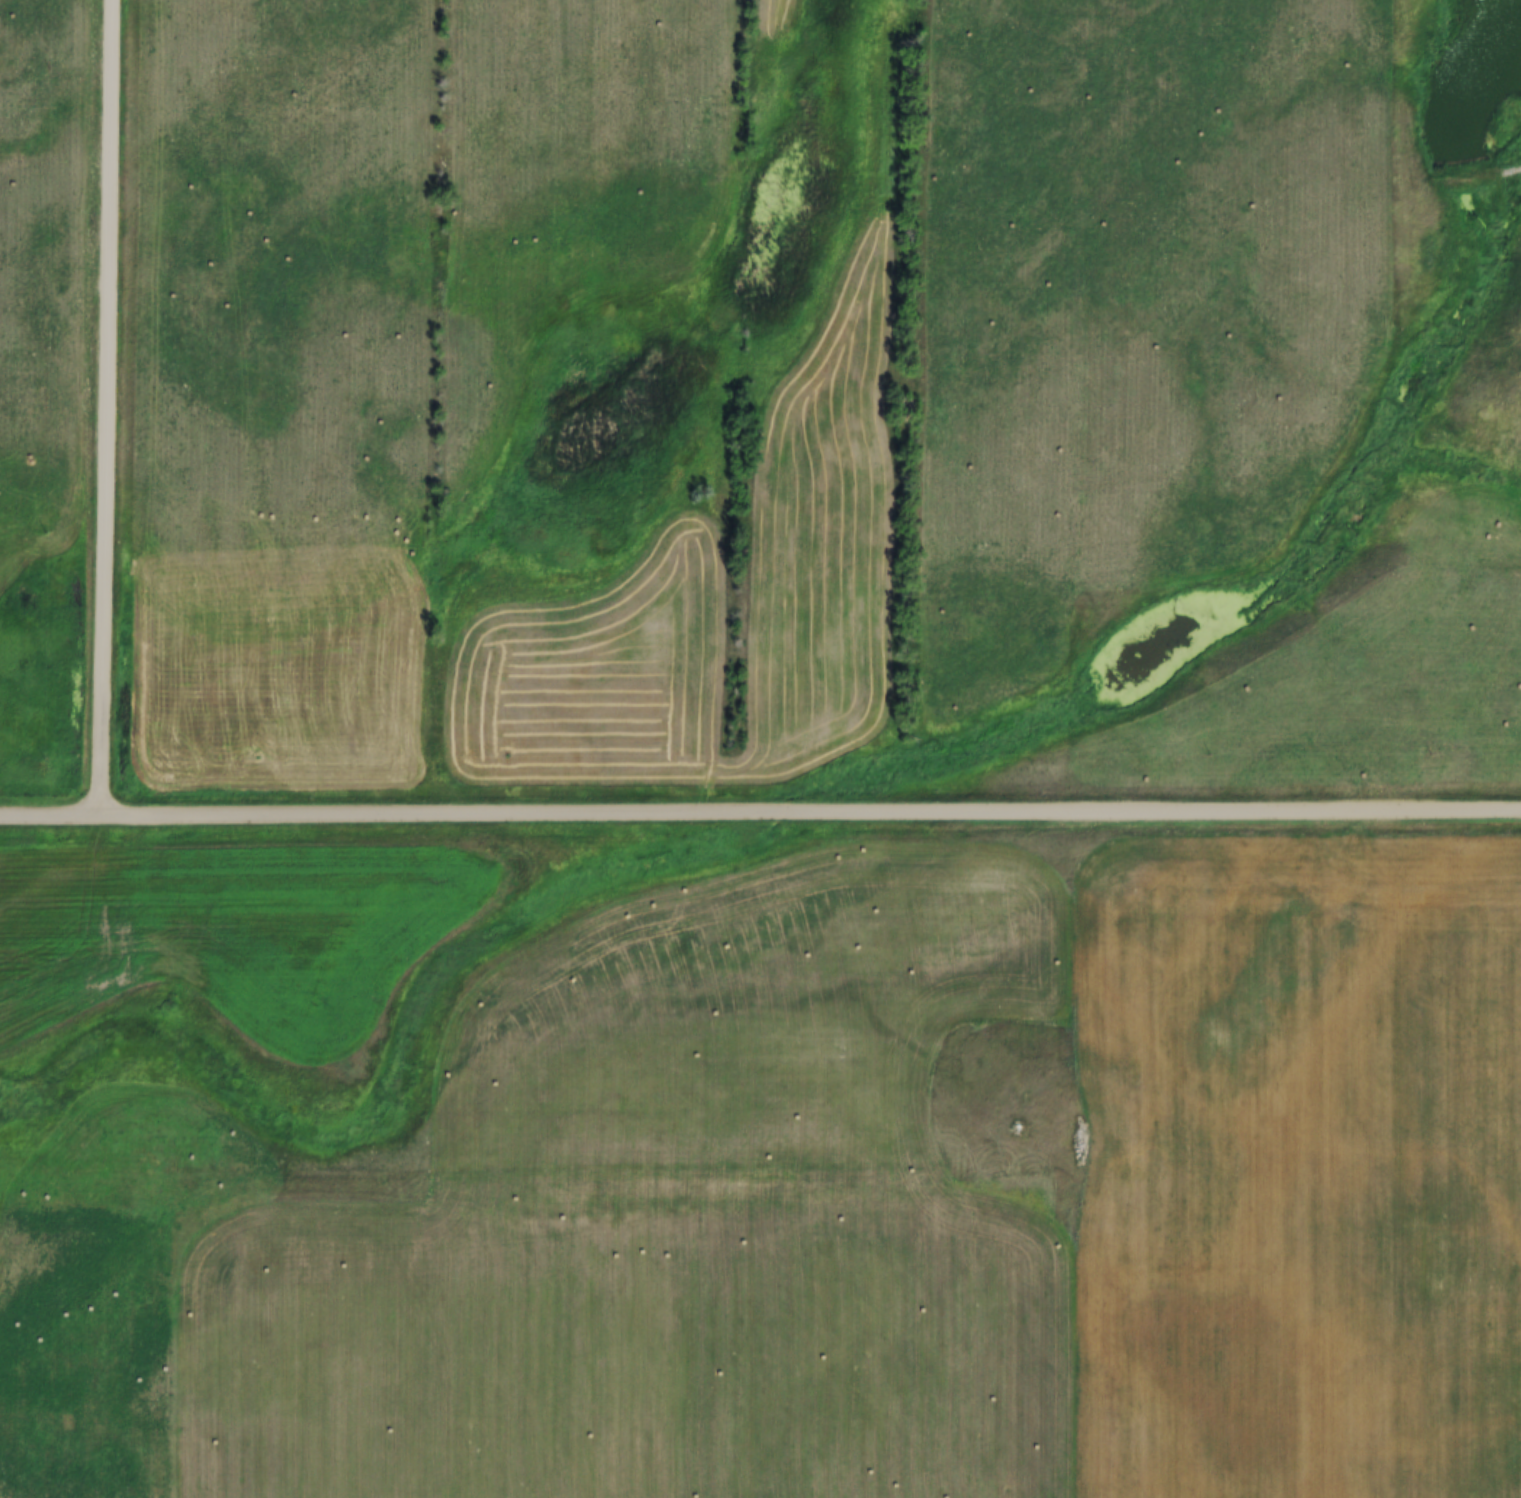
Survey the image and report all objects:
road: (113, 405)
road: (760, 810)

